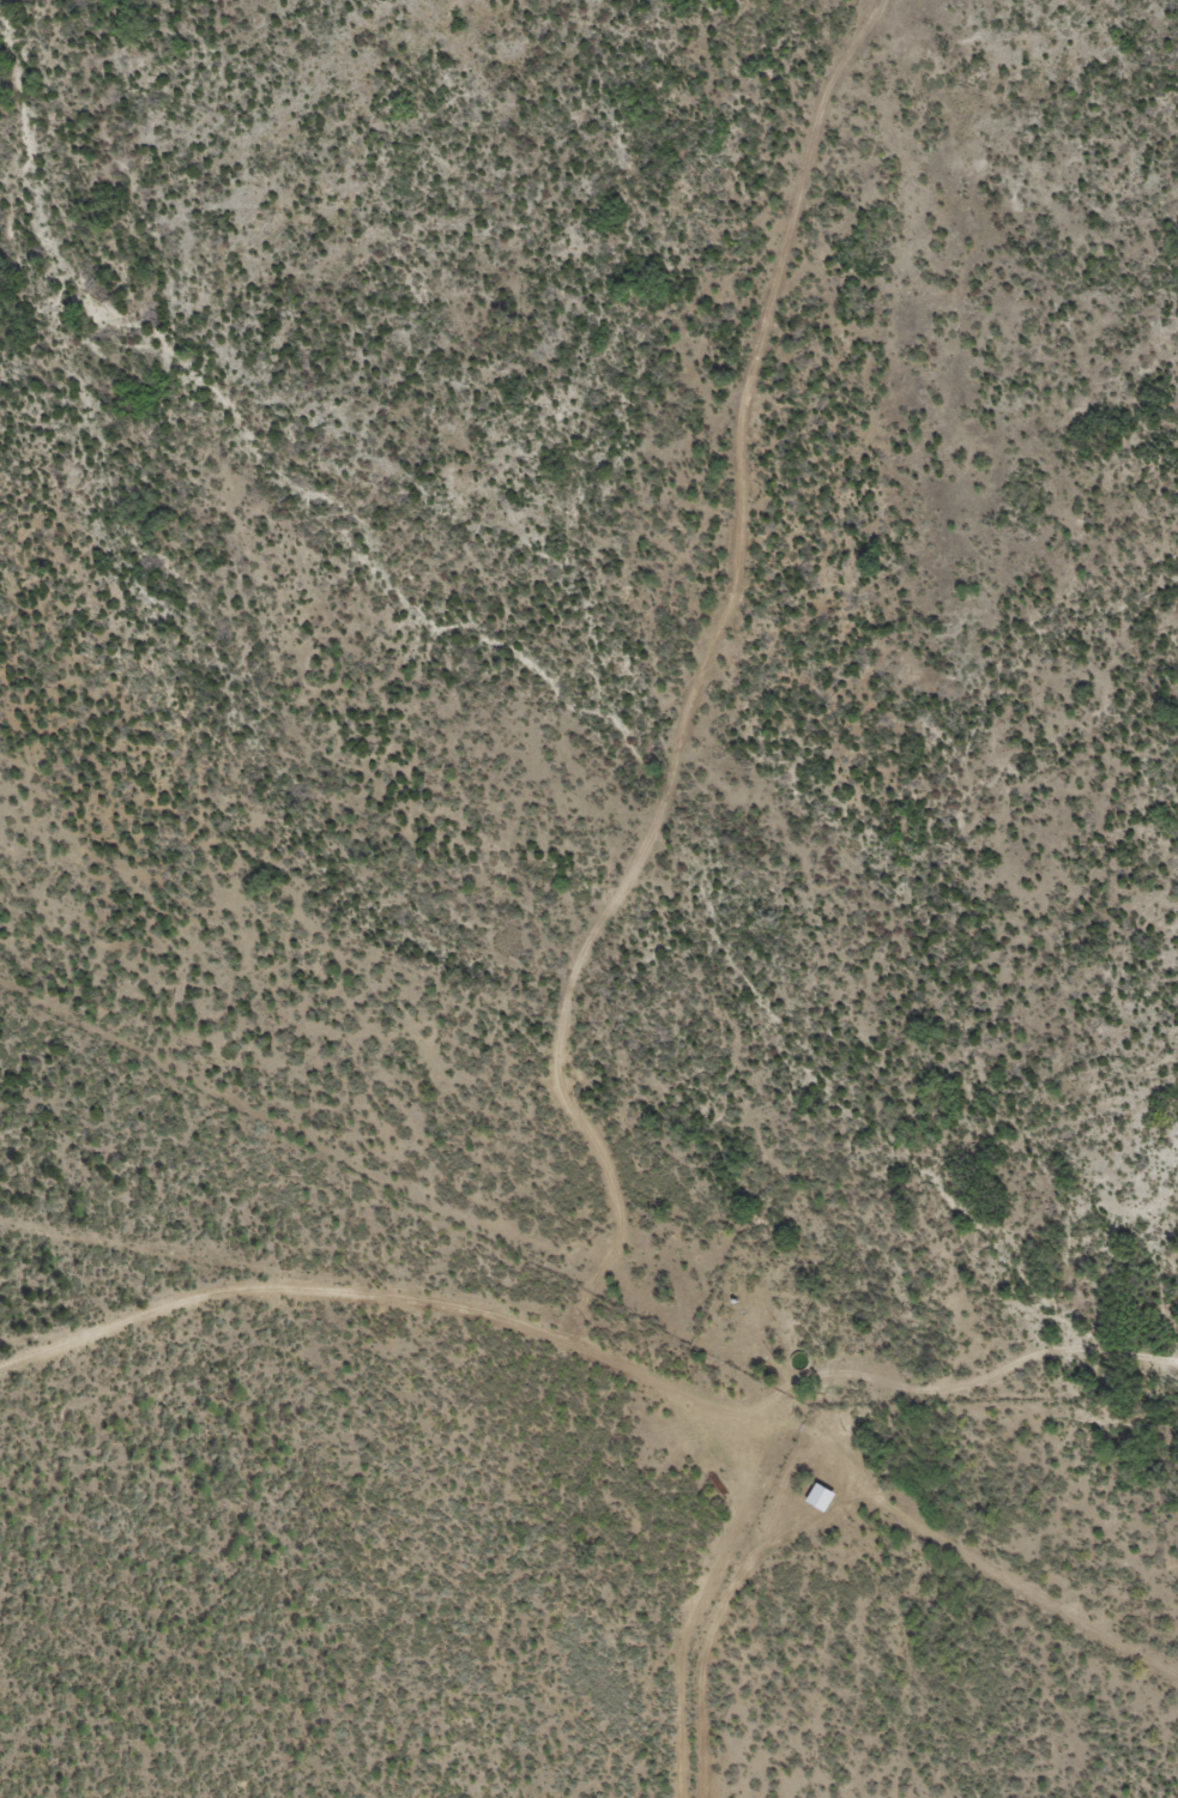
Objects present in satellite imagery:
road: (712, 702)
road: (585, 1349)
road: (721, 1587)

